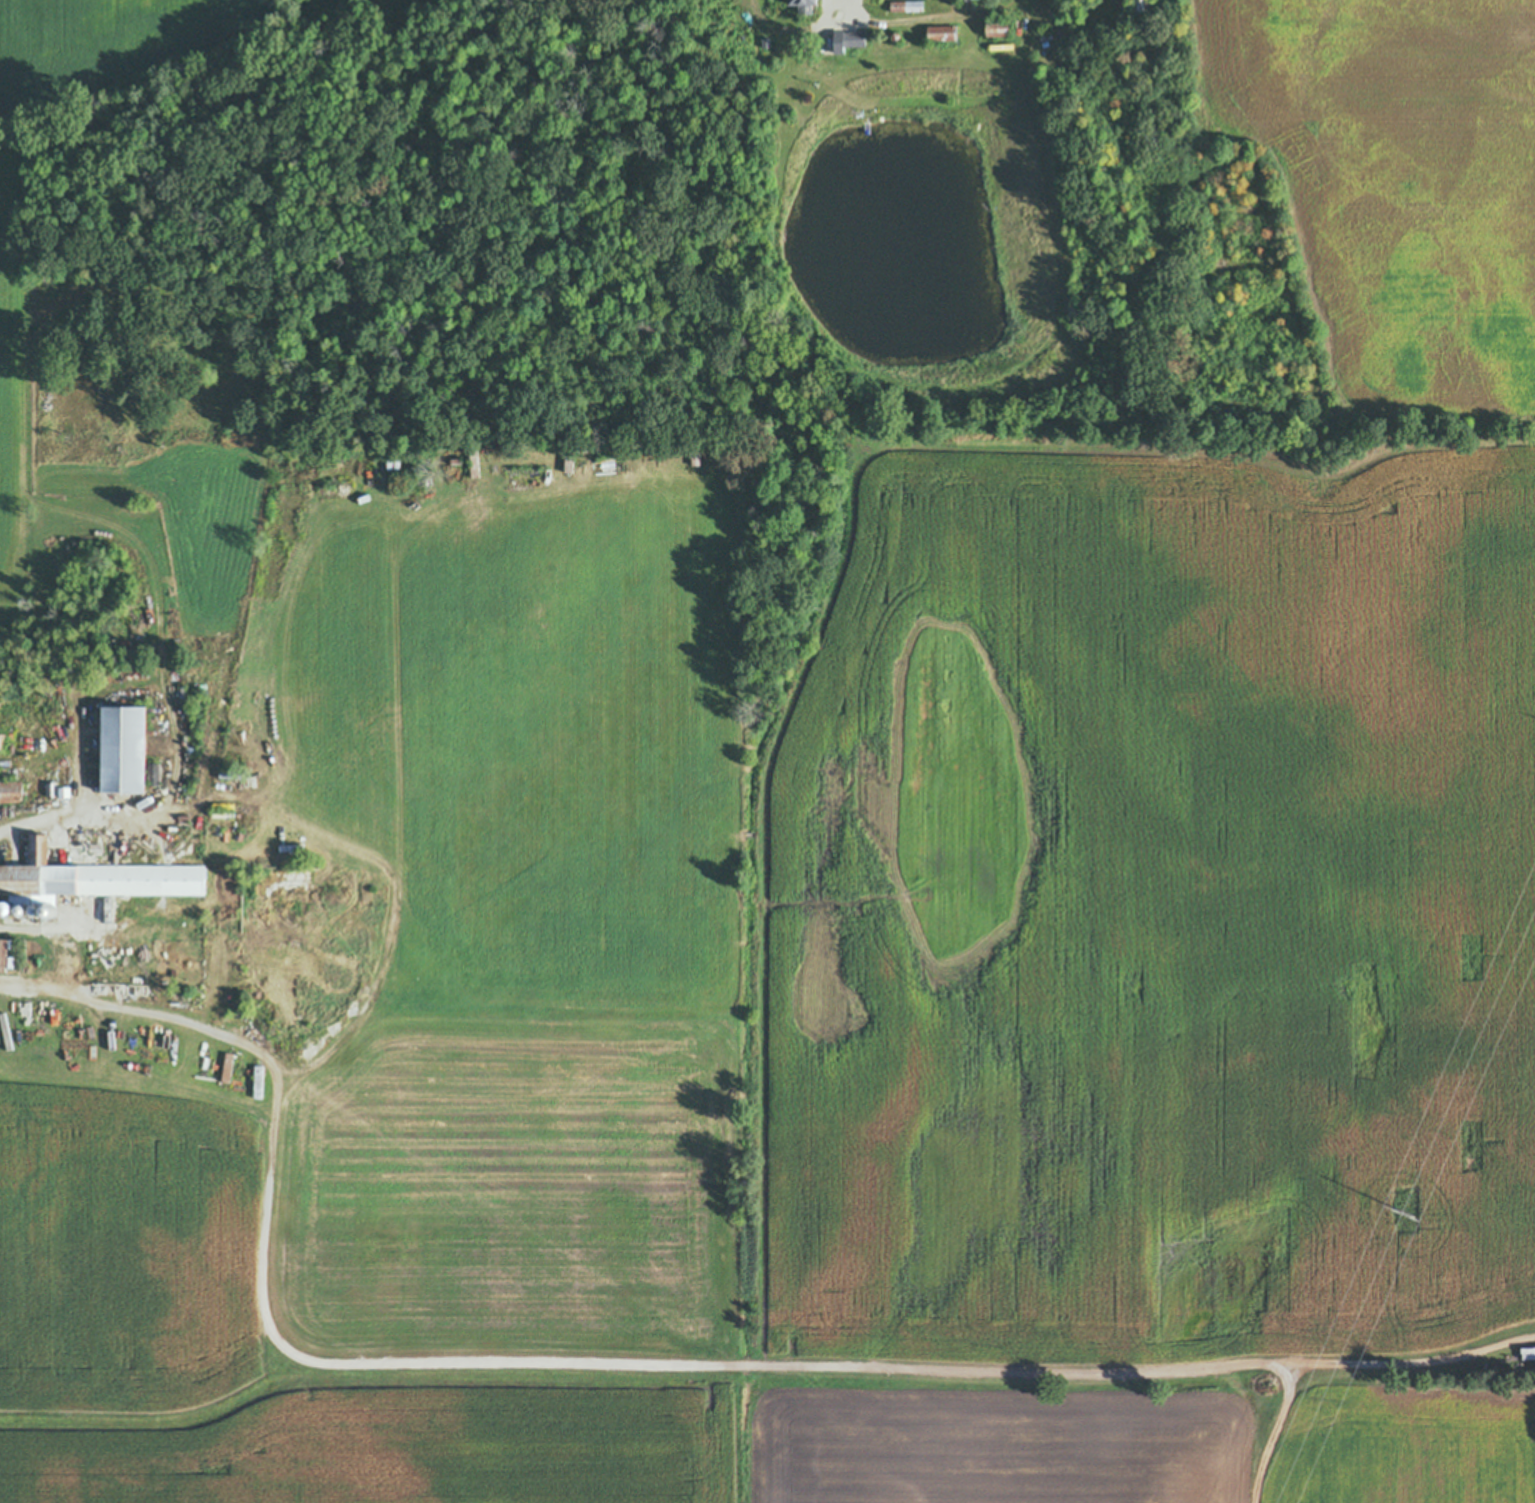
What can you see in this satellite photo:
building: (969, 3)
building: (805, 4)
building: (907, 5)
building: (1142, 6)
road: (906, 25)
building: (998, 27)
building: (942, 33)
building: (896, 35)
building: (847, 39)
building: (766, 42)
building: (879, 131)
building: (695, 451)
building: (569, 458)
building: (474, 463)
building: (496, 476)
building: (170, 631)
building: (177, 641)
building: (55, 663)
building: (69, 664)
building: (182, 692)
building: (4, 741)
building: (34, 747)
building: (121, 749)
building: (154, 773)
building: (228, 775)
building: (52, 789)
building: (12, 790)
building: (64, 792)
building: (183, 818)
building: (89, 827)
building: (240, 834)
building: (299, 863)
building: (98, 876)
building: (7, 908)
building: (51, 910)
building: (36, 911)
building: (24, 912)
building: (3, 954)
building: (50, 1019)
building: (44, 1020)
building: (56, 1024)
building: (228, 1067)
building: (259, 1082)
power tower: (1405, 1212)
building: (1529, 1348)
building: (1530, 1354)
road: (621, 1356)
road: (1269, 1428)

